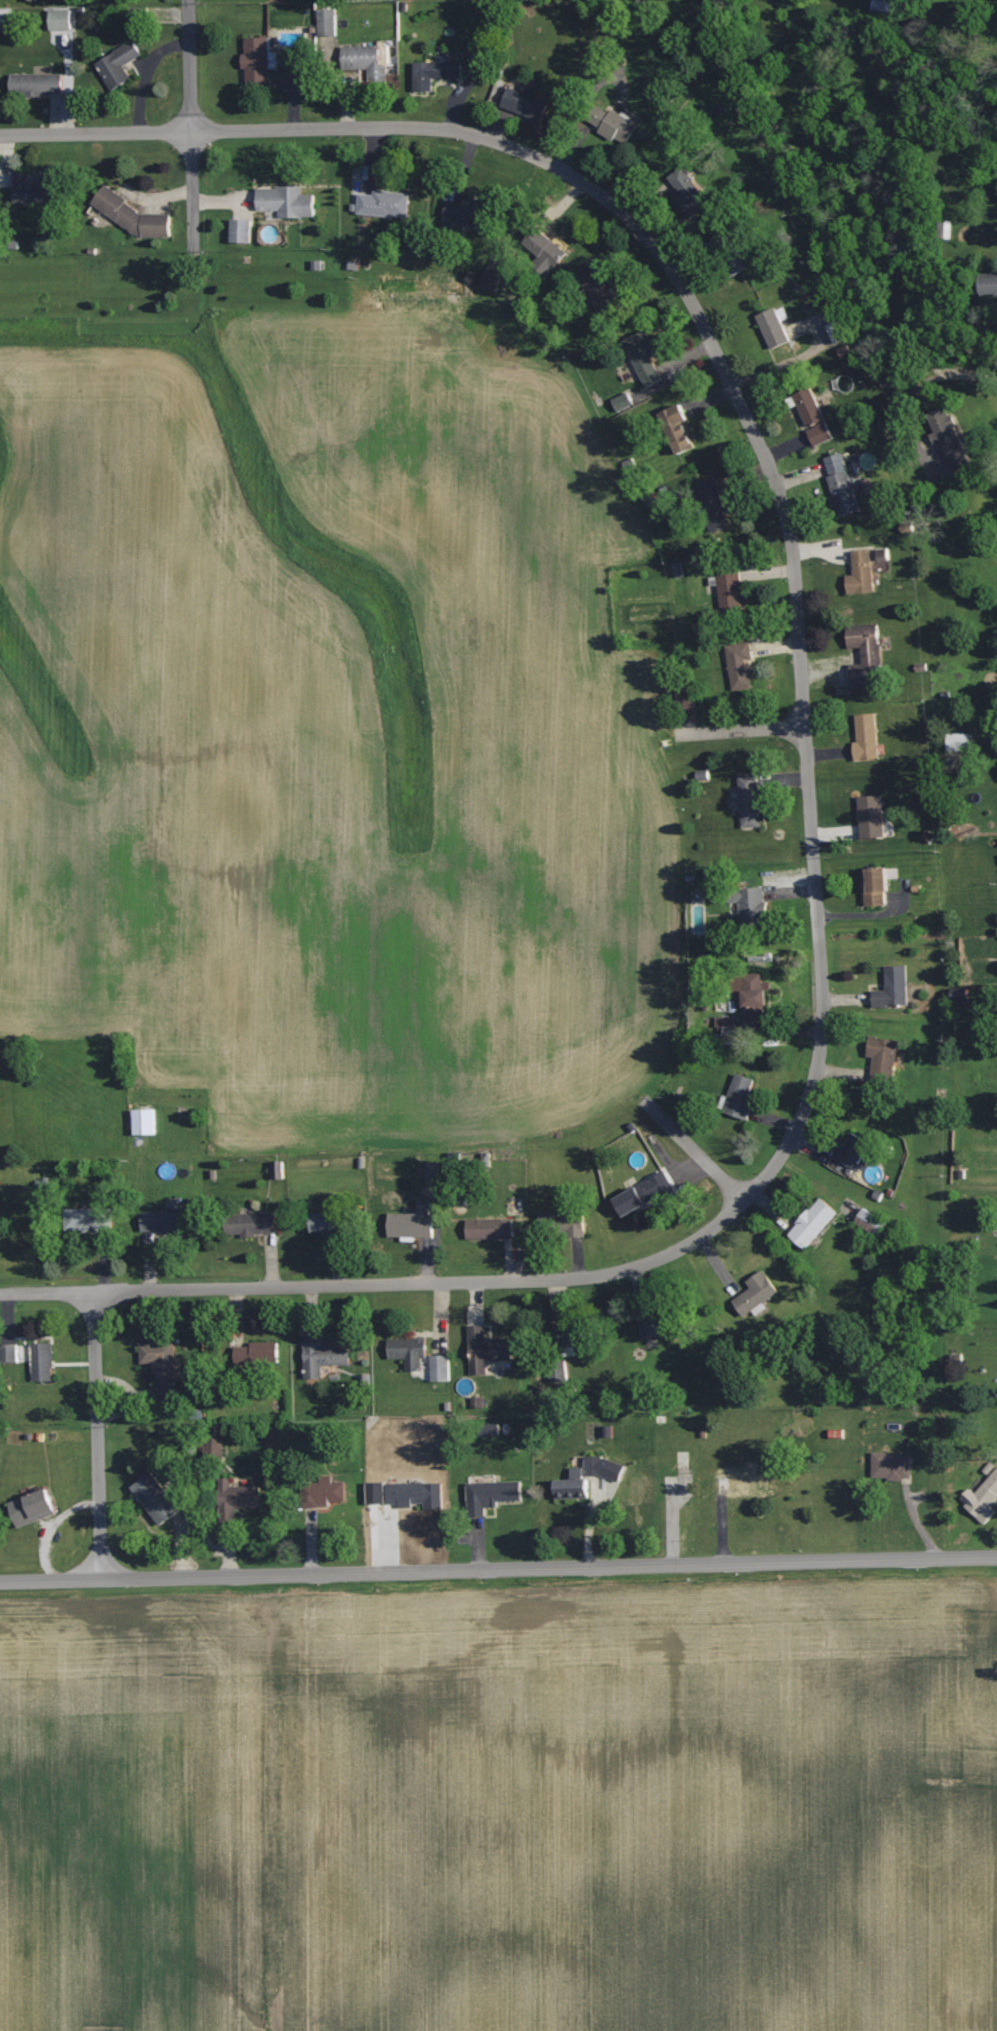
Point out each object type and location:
building: (889, 5)
building: (60, 19)
building: (327, 23)
building: (256, 61)
building: (364, 61)
building: (118, 65)
road: (189, 66)
building: (434, 73)
building: (36, 84)
building: (526, 101)
building: (614, 125)
road: (95, 133)
building: (30, 190)
road: (192, 194)
building: (690, 194)
building: (286, 202)
building: (384, 204)
building: (132, 216)
building: (463, 216)
building: (241, 231)
building: (545, 252)
building: (489, 282)
building: (990, 285)
building: (774, 329)
building: (836, 333)
building: (643, 361)
road: (953, 375)
building: (623, 402)
building: (813, 417)
building: (679, 429)
building: (949, 439)
building: (835, 464)
building: (844, 494)
building: (714, 504)
building: (861, 574)
building: (730, 591)
building: (866, 654)
building: (740, 664)
building: (686, 697)
road: (740, 729)
building: (867, 737)
building: (959, 741)
building: (750, 799)
building: (872, 815)
road: (813, 850)
building: (876, 886)
building: (750, 903)
building: (893, 987)
building: (753, 997)
building: (727, 1028)
building: (883, 1056)
building: (741, 1095)
building: (144, 1121)
road: (694, 1150)
building: (855, 1150)
building: (277, 1170)
building: (433, 1171)
building: (645, 1194)
building: (85, 1219)
building: (161, 1220)
building: (325, 1222)
building: (413, 1222)
building: (871, 1222)
building: (562, 1223)
building: (813, 1223)
building: (252, 1224)
building: (496, 1228)
building: (756, 1293)
building: (653, 1324)
building: (572, 1333)
building: (486, 1349)
building: (409, 1352)
building: (9, 1353)
building: (258, 1354)
building: (323, 1357)
building: (42, 1361)
building: (162, 1368)
building: (440, 1368)
road: (97, 1435)
building: (892, 1466)
building: (587, 1477)
building: (740, 1482)
building: (324, 1492)
building: (415, 1494)
building: (490, 1495)
building: (238, 1497)
building: (155, 1498)
building: (982, 1499)
building: (32, 1507)
road: (498, 1569)

